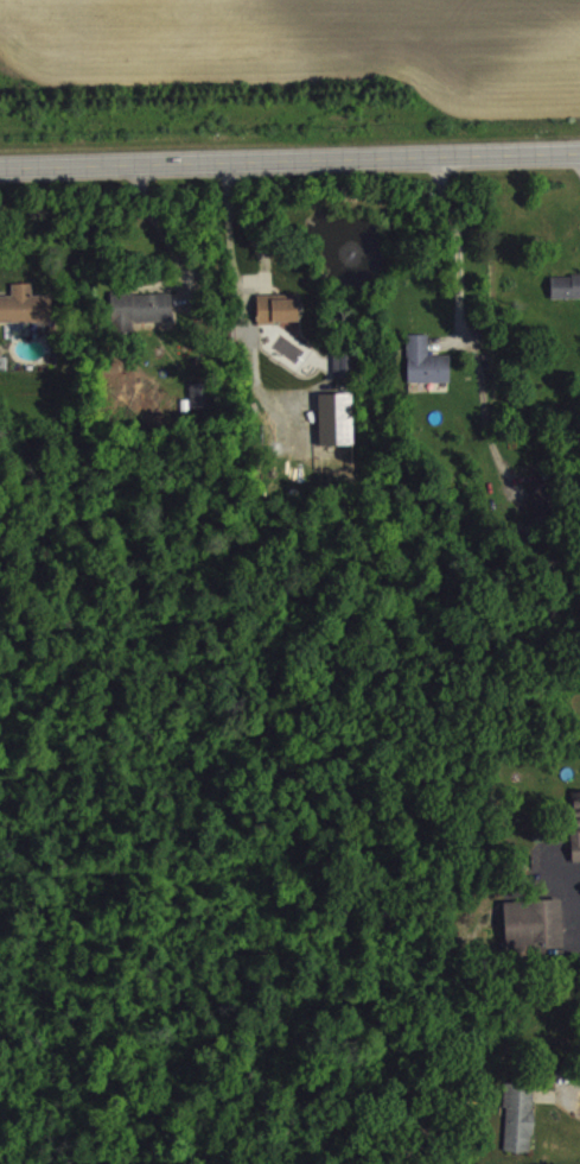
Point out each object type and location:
road: (289, 158)
road: (455, 252)
road: (238, 296)
building: (566, 299)
building: (25, 318)
building: (141, 322)
building: (278, 322)
building: (426, 374)
building: (344, 379)
building: (200, 407)
road: (485, 422)
building: (336, 431)
building: (542, 510)
building: (575, 836)
building: (534, 937)
building: (518, 1130)

